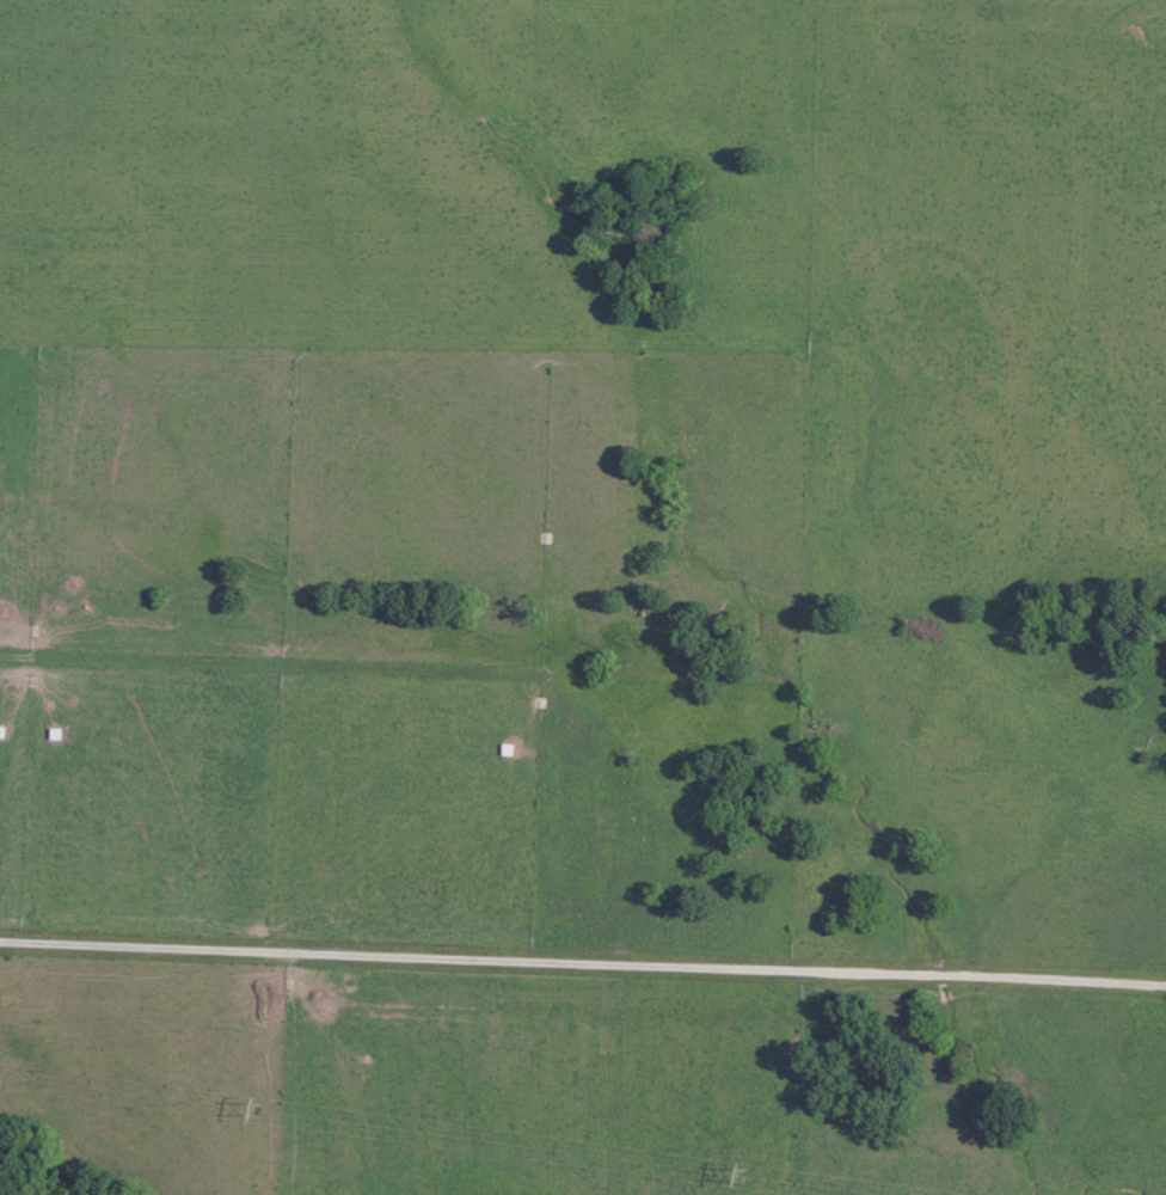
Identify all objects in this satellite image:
road: (582, 961)
power tower: (260, 1107)
power tower: (748, 1171)

